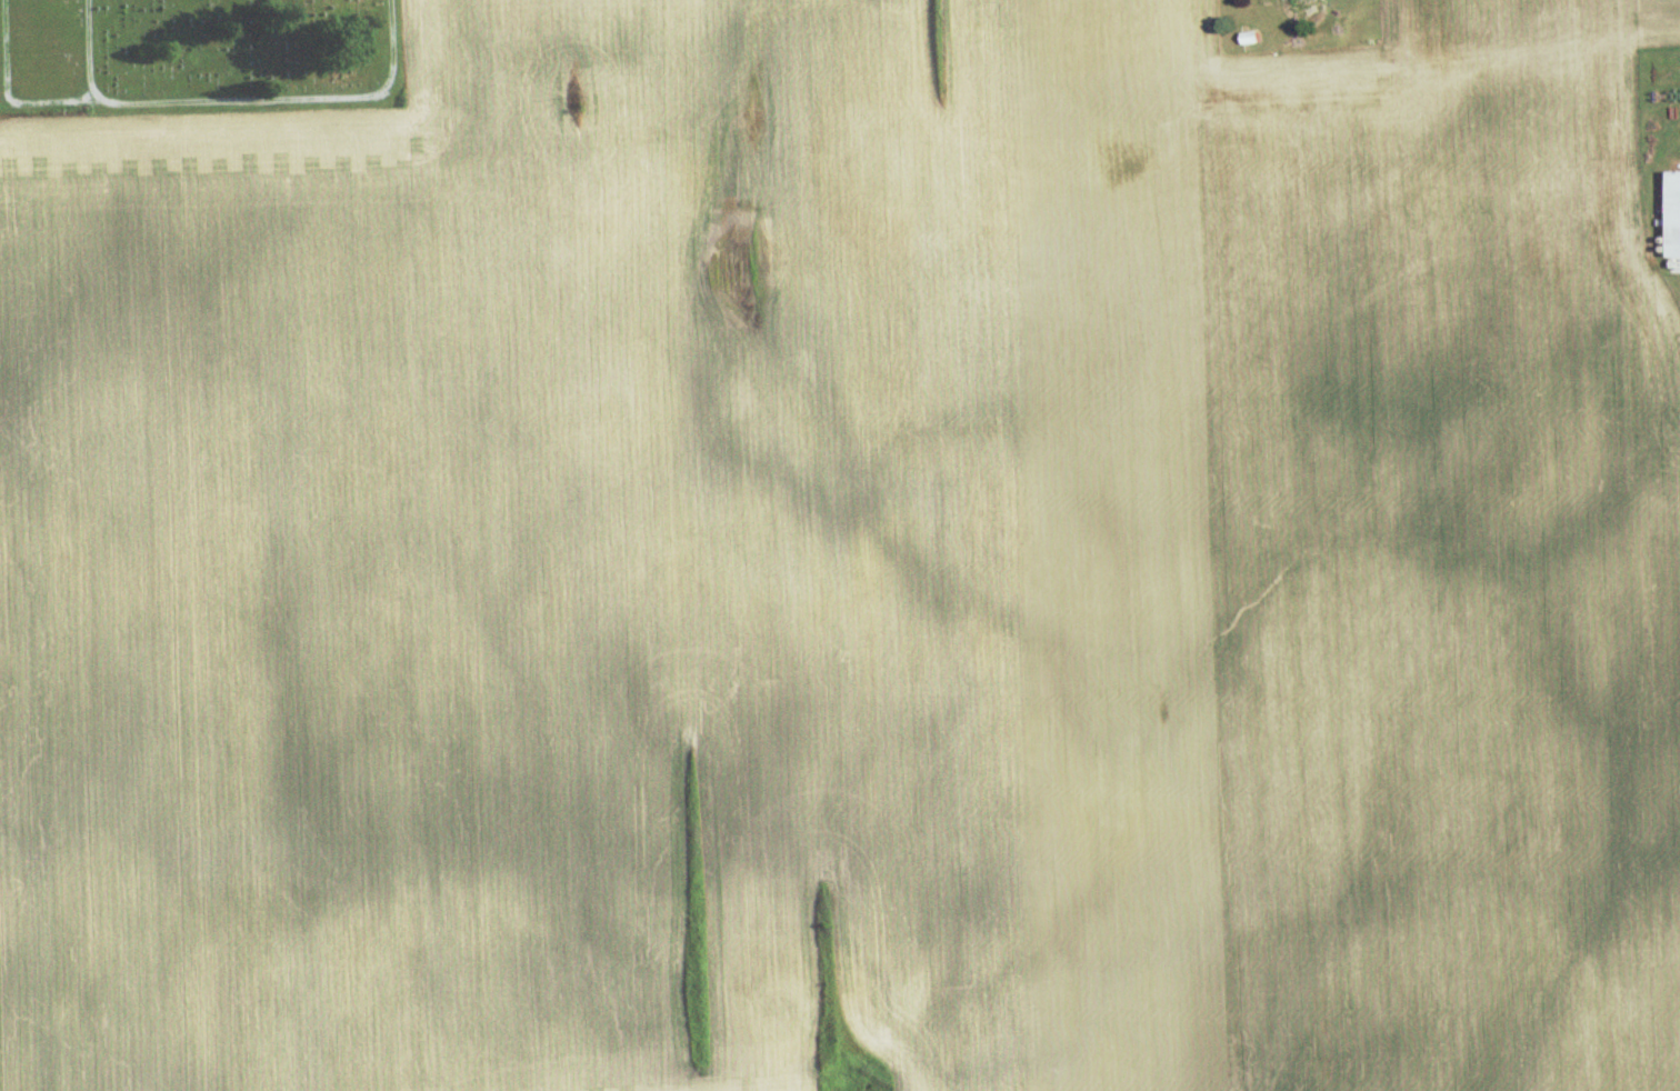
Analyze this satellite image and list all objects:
park: (198, 53)
road: (8, 94)
road: (237, 101)
building: (1677, 211)

